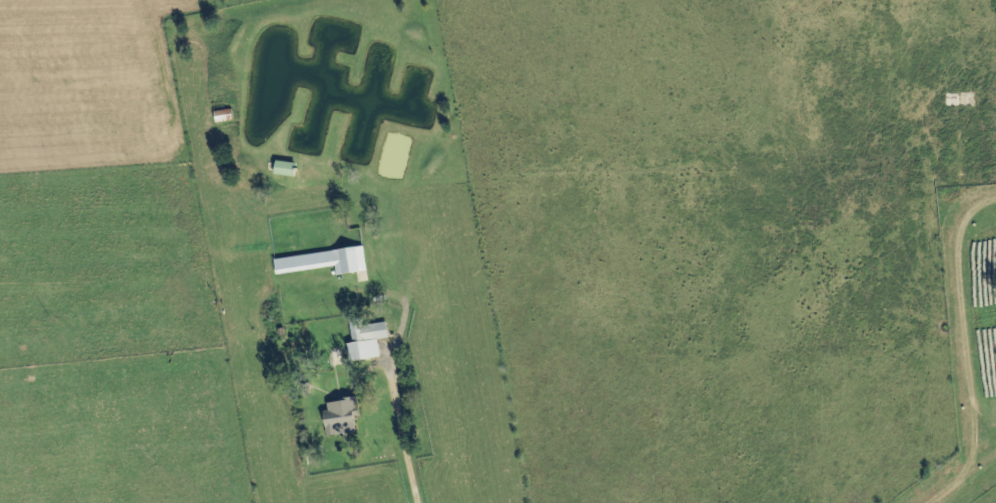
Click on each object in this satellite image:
building: (328, 262)
building: (370, 340)
road: (976, 354)
building: (344, 418)
road: (399, 439)

